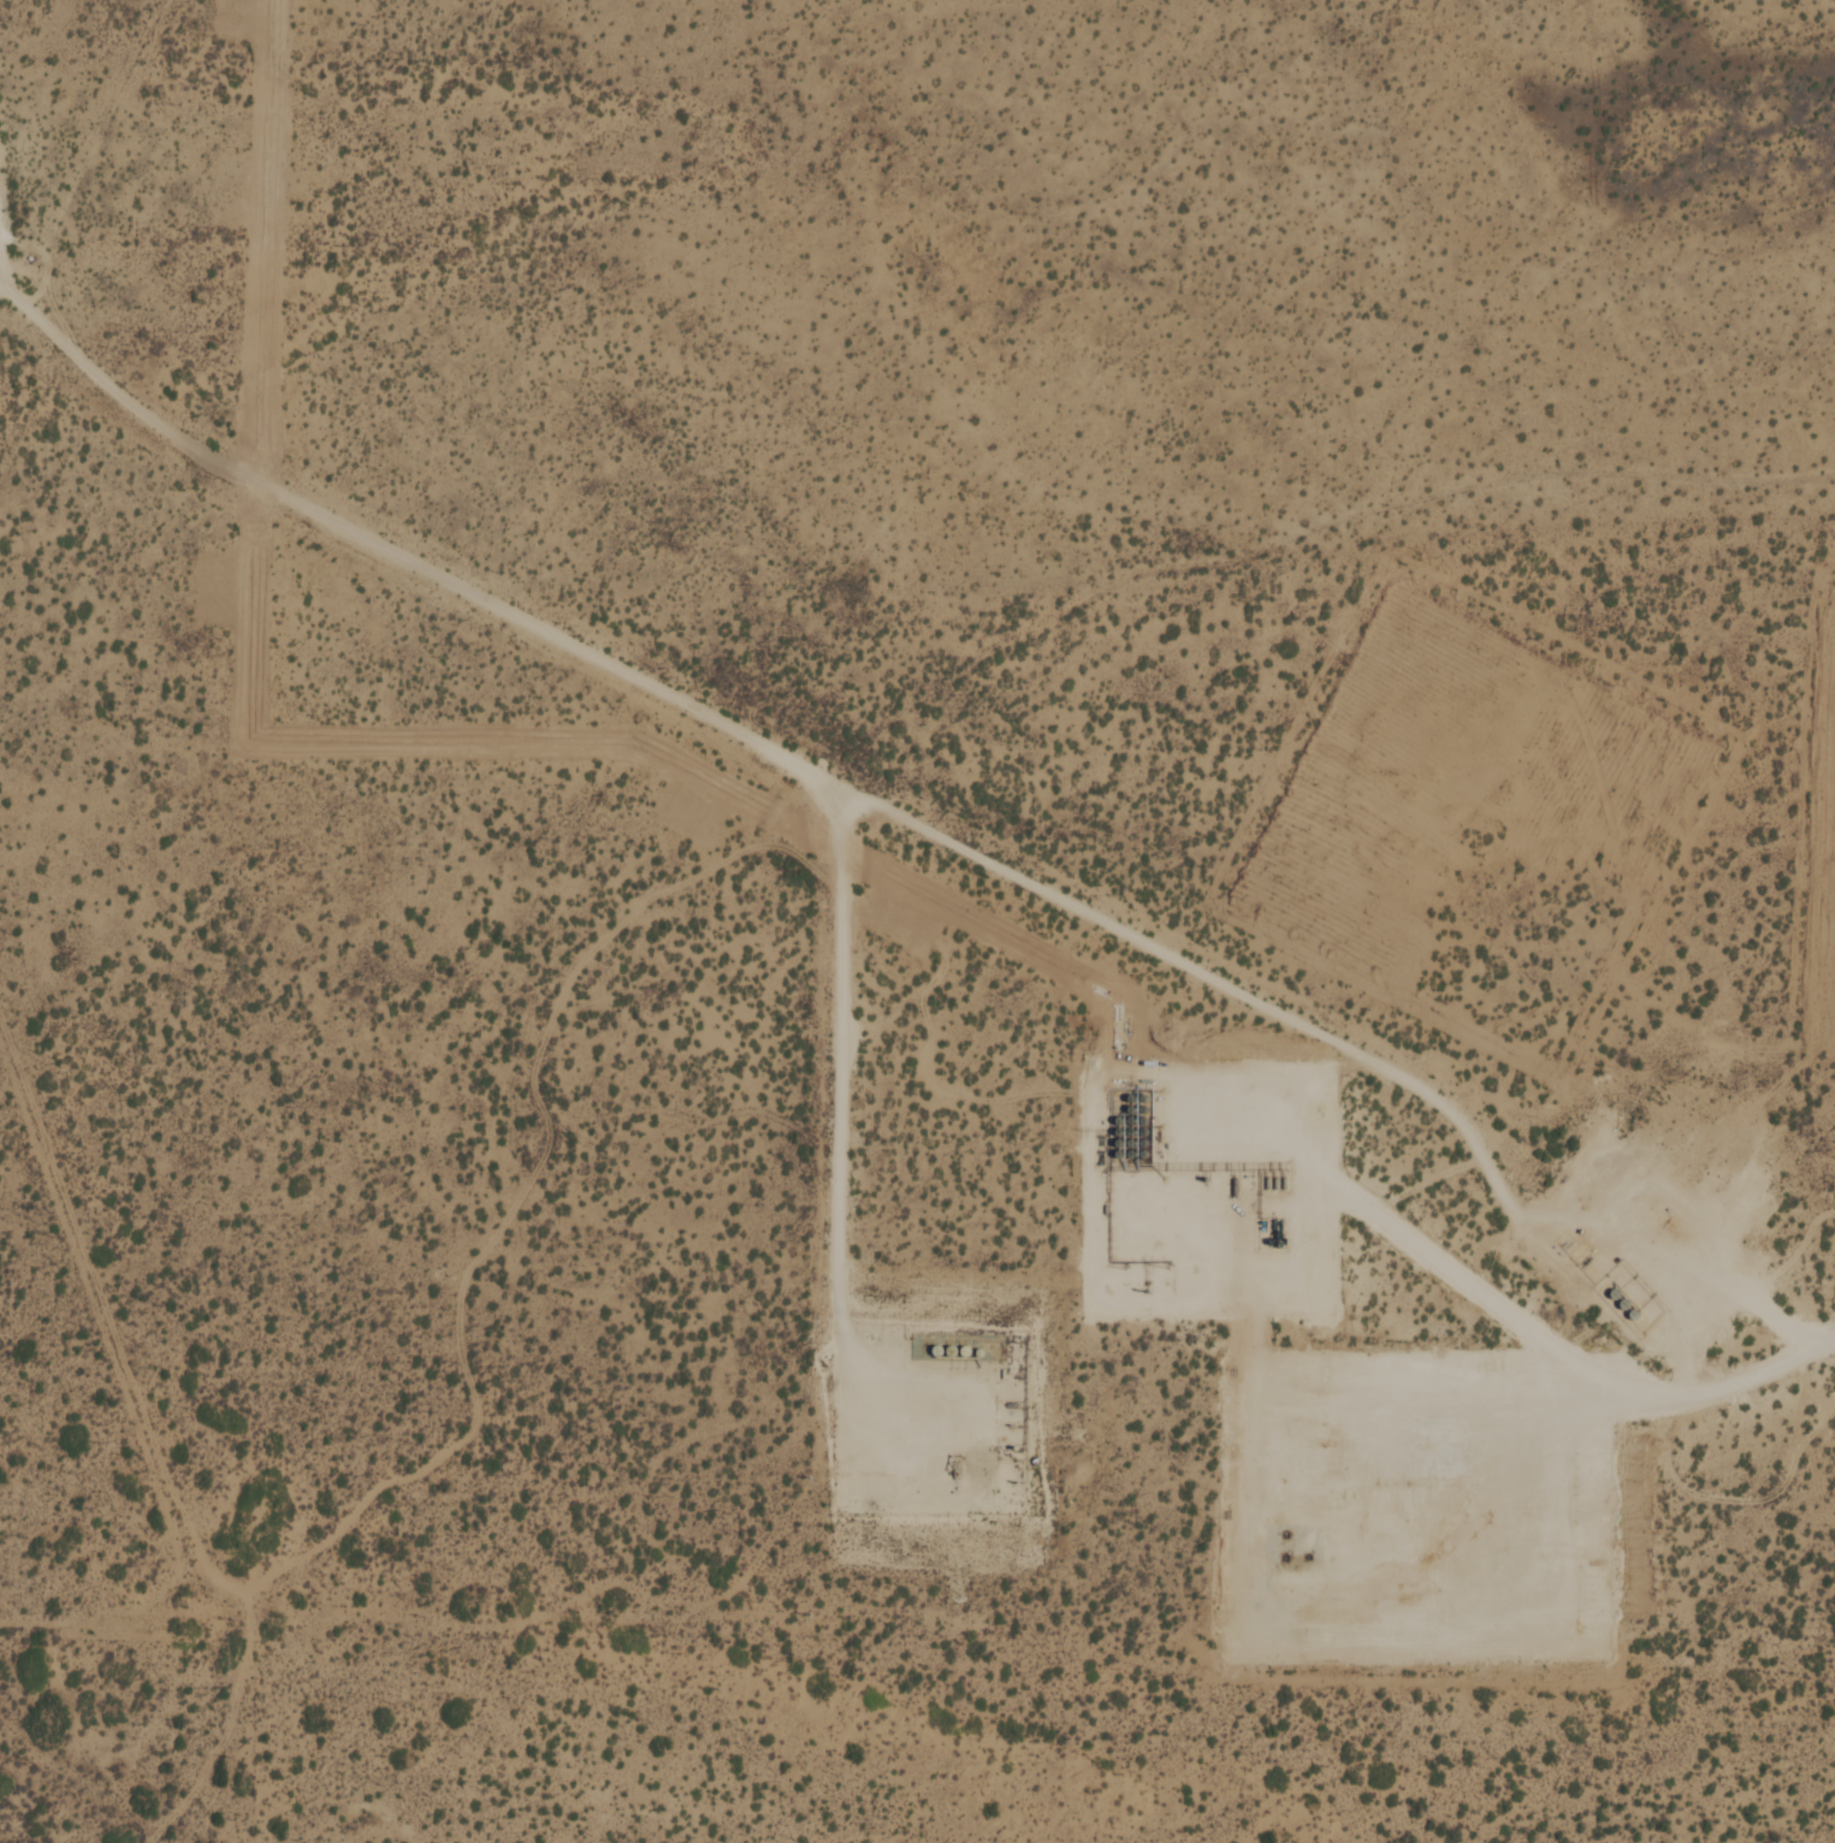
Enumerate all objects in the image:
road: (943, 971)

